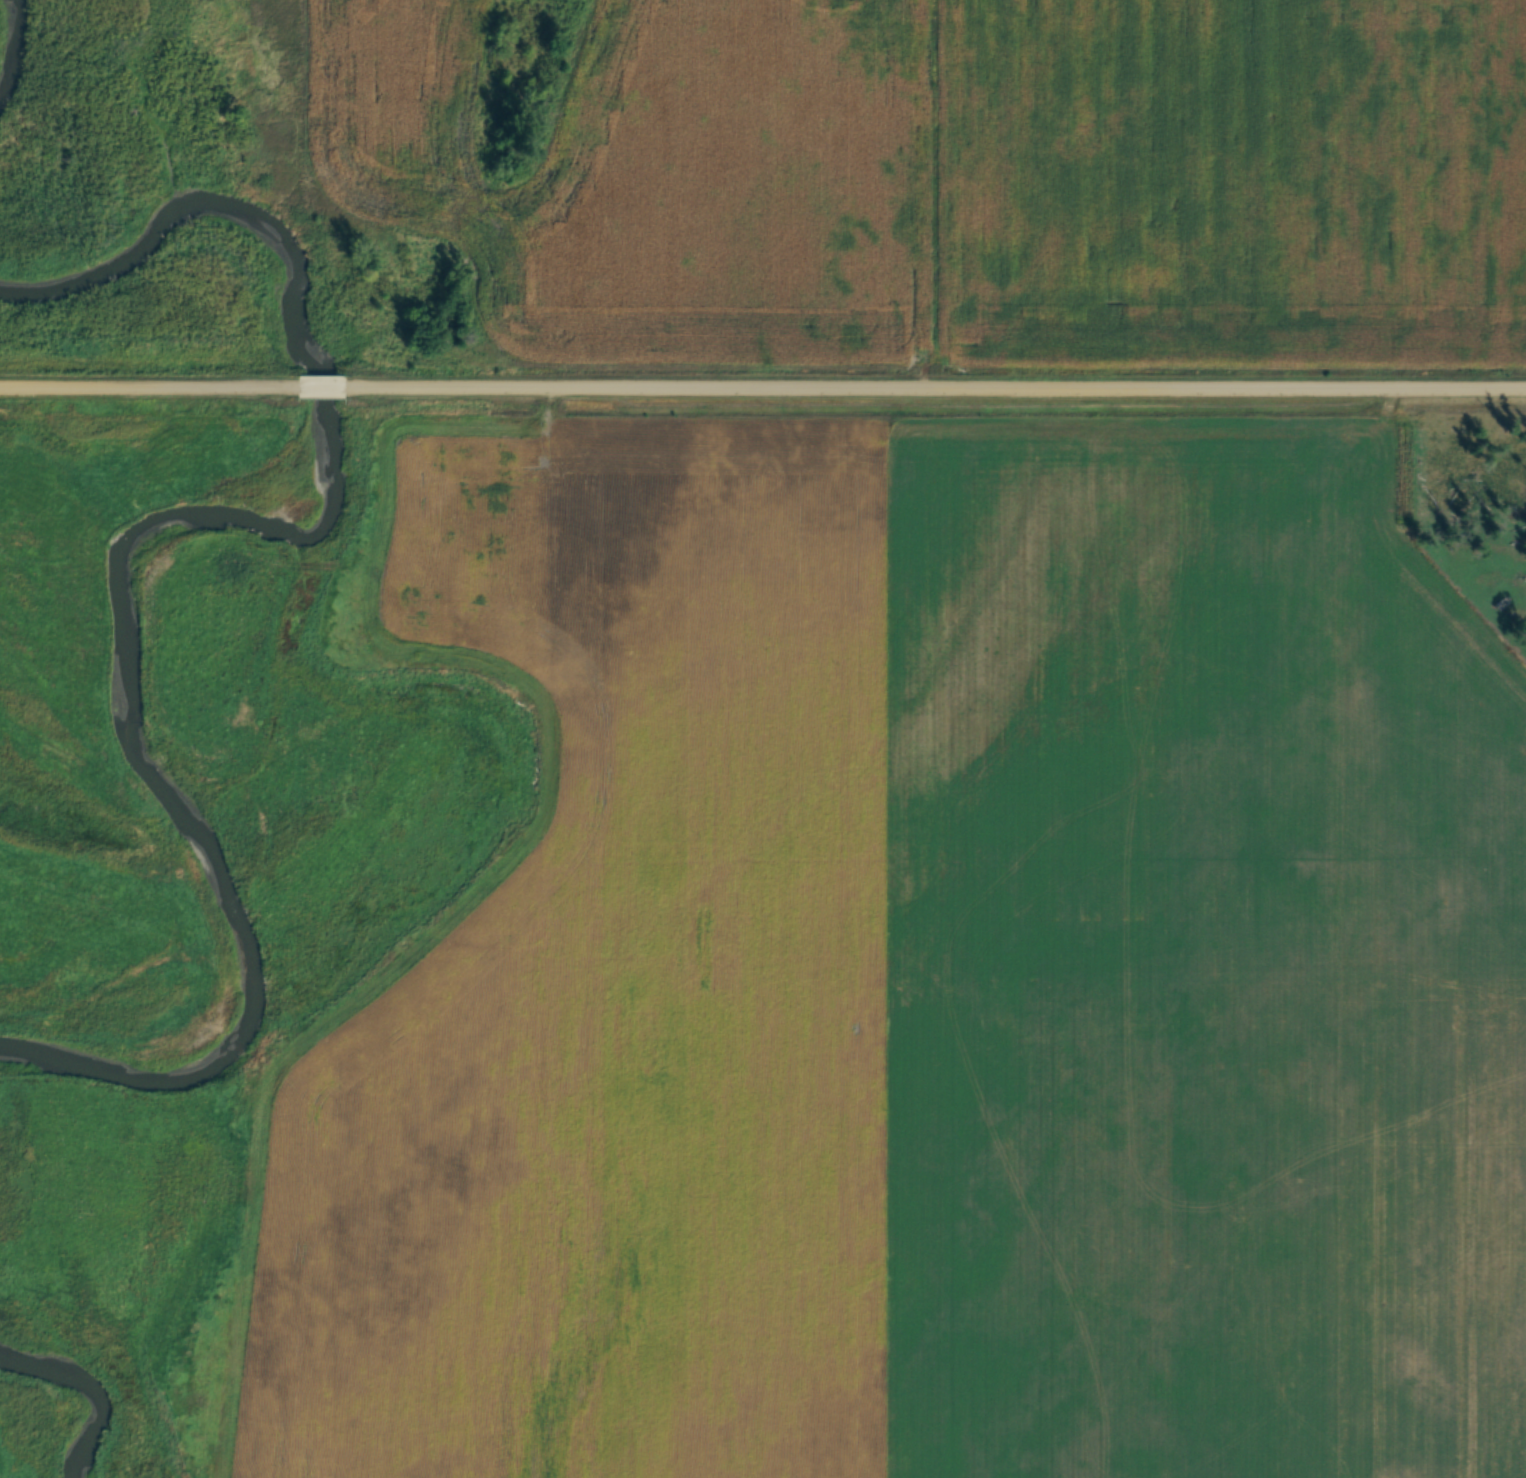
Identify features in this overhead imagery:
river: (8, 20)
road: (935, 386)
road: (322, 388)
road: (150, 389)
river: (154, 533)
river: (85, 1388)

